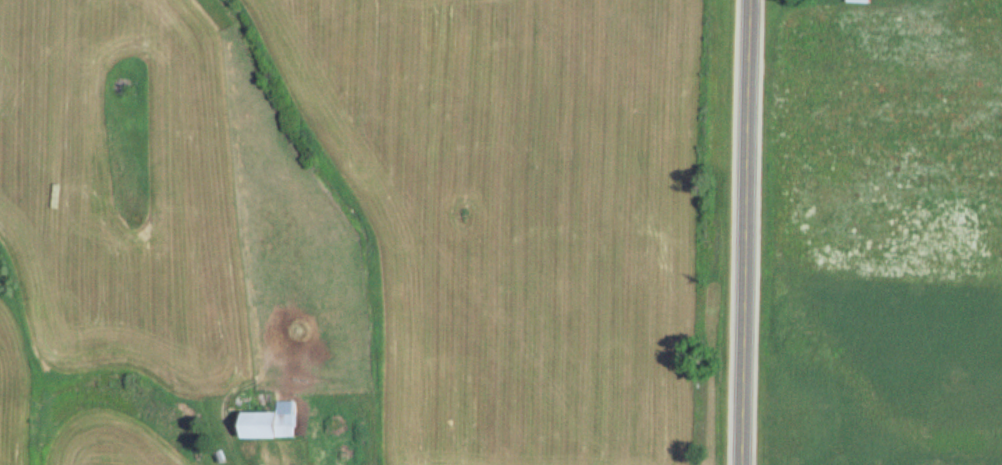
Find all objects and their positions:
building: (862, 1)
road: (750, 232)
building: (274, 425)

